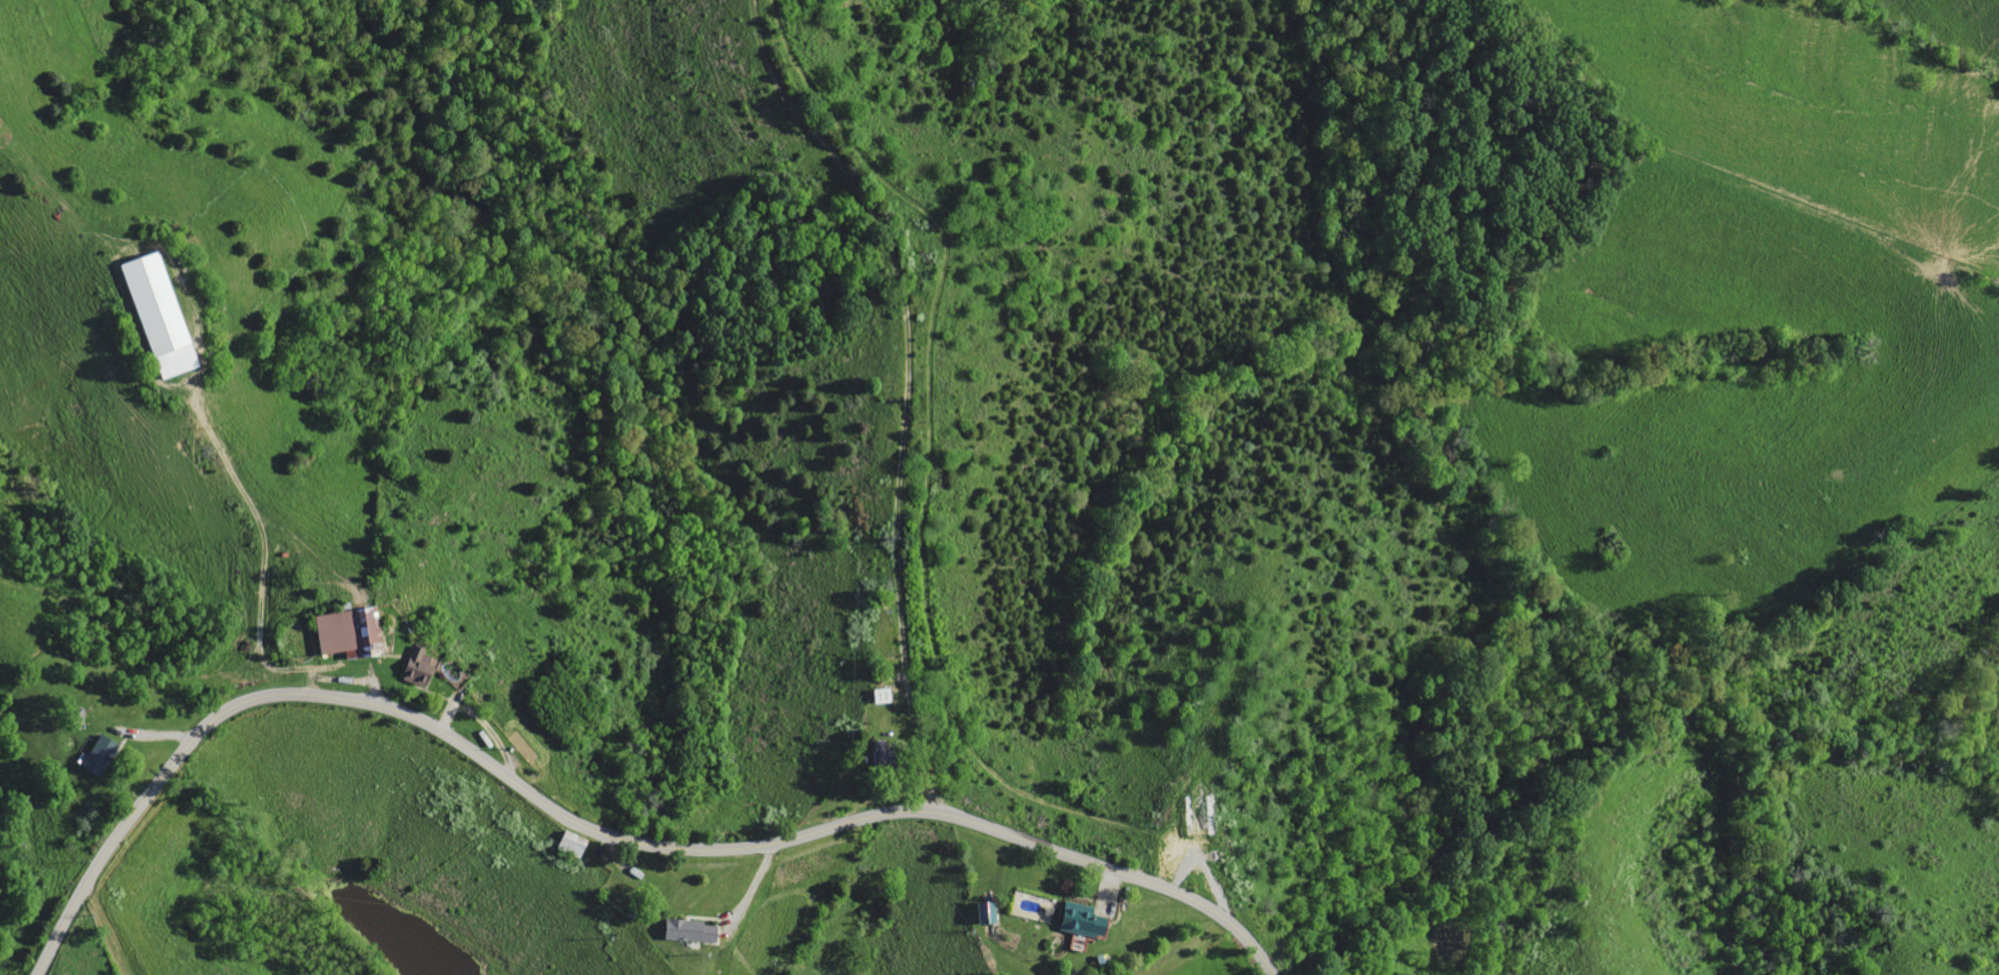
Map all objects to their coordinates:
building: (162, 316)
building: (353, 632)
building: (421, 668)
building: (884, 697)
building: (888, 754)
building: (103, 755)
road: (592, 829)
building: (988, 913)
building: (1084, 924)
building: (691, 930)

